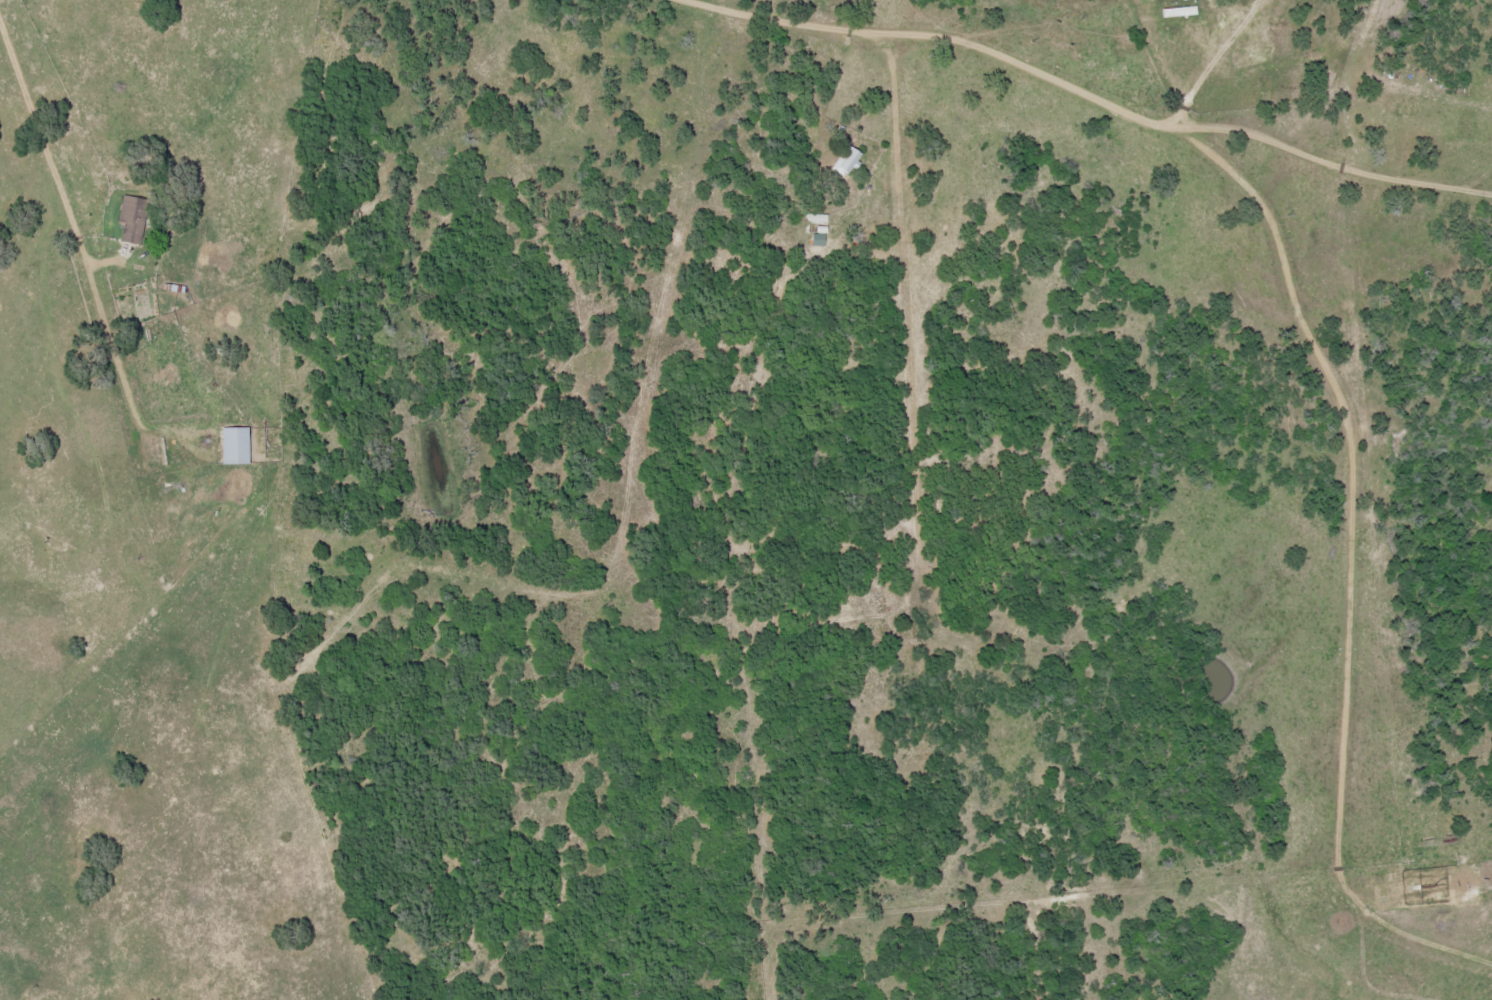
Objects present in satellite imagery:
road: (1003, 23)
road: (1026, 102)
building: (845, 160)
building: (131, 218)
road: (57, 263)
road: (626, 292)
road: (887, 363)
building: (234, 444)
road: (1335, 561)

